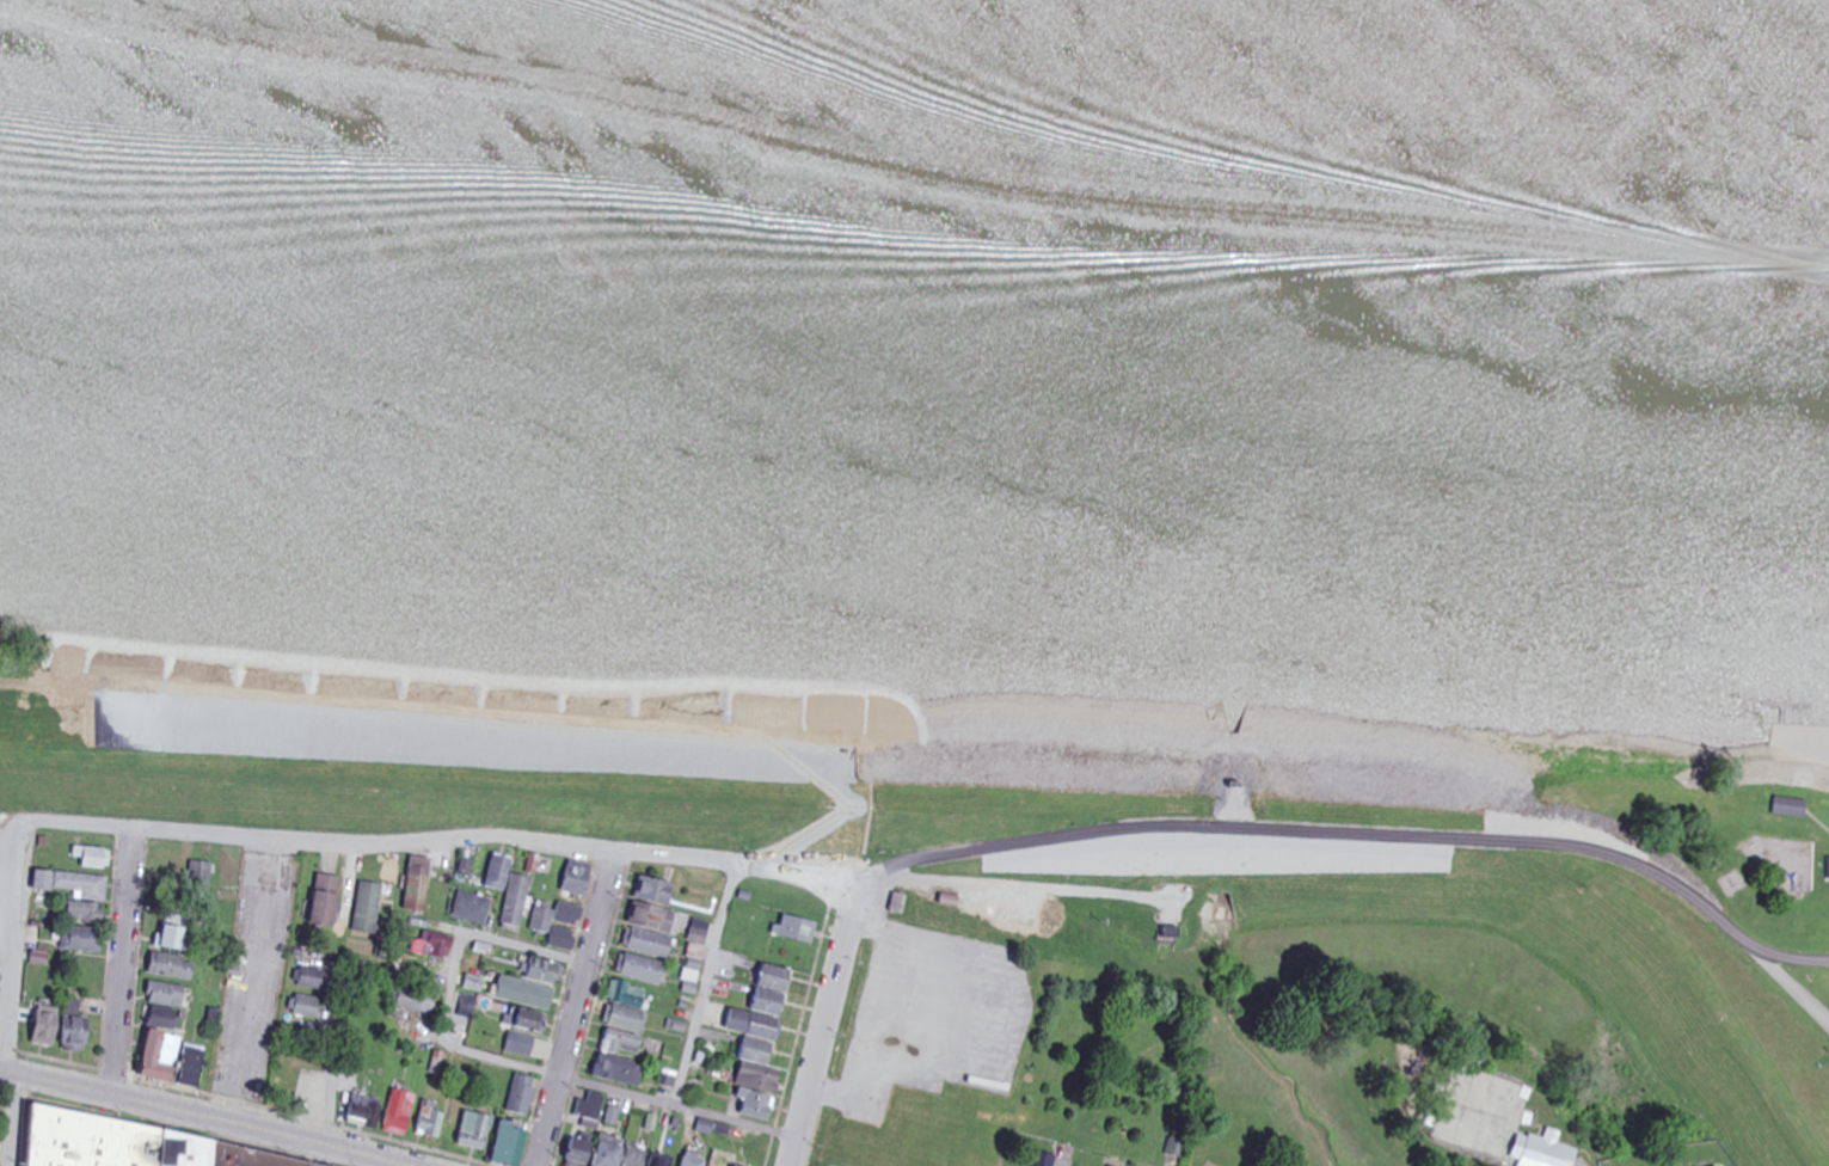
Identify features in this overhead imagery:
river: (915, 139)
building: (1791, 808)
road: (496, 839)
road: (1368, 842)
building: (92, 860)
building: (467, 869)
building: (201, 878)
building: (581, 880)
building: (419, 884)
building: (73, 885)
road: (12, 888)
building: (657, 891)
building: (511, 892)
building: (329, 902)
building: (369, 908)
building: (473, 909)
building: (86, 914)
building: (653, 919)
building: (559, 923)
building: (797, 929)
building: (177, 935)
building: (650, 944)
building: (431, 947)
road: (123, 963)
building: (644, 970)
building: (546, 972)
building: (778, 980)
road: (254, 983)
road: (705, 986)
road: (453, 987)
road: (335, 995)
road: (575, 1009)
road: (823, 1027)
road: (676, 1107)
road: (198, 1117)
road: (12, 1119)
building: (133, 1144)

